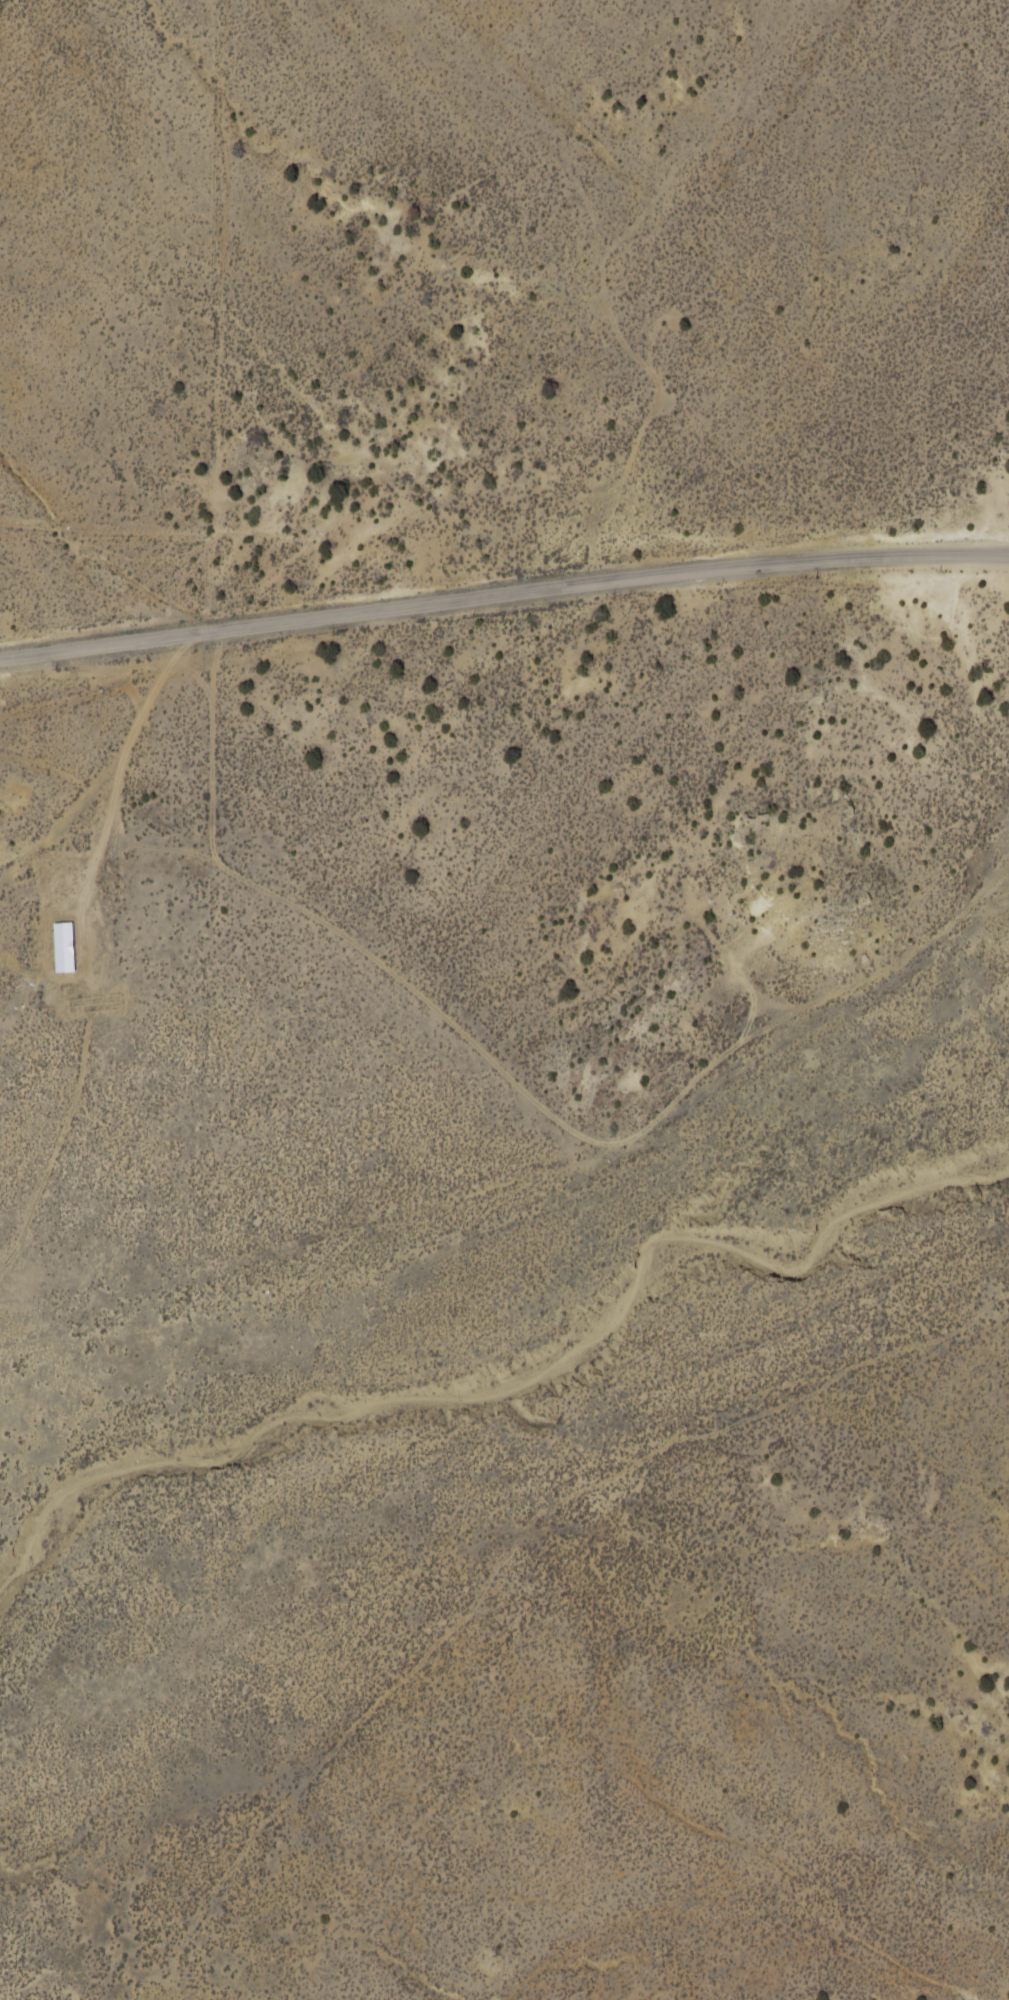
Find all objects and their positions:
road: (503, 595)

